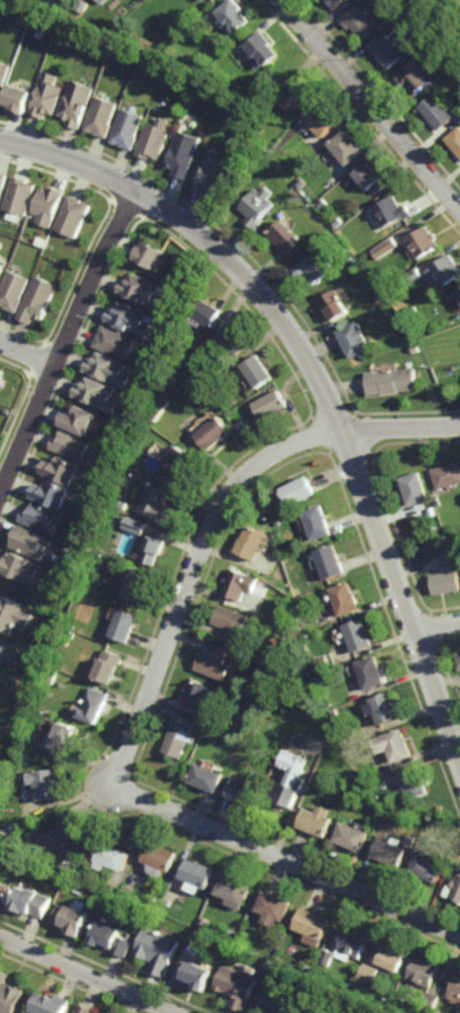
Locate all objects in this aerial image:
building: (103, 1)
building: (336, 2)
building: (233, 14)
building: (360, 21)
building: (261, 47)
building: (389, 49)
building: (232, 55)
building: (4, 74)
building: (416, 76)
building: (295, 94)
building: (48, 95)
building: (18, 97)
building: (77, 103)
road: (371, 104)
building: (437, 112)
building: (102, 116)
building: (321, 119)
building: (128, 129)
building: (264, 131)
building: (153, 139)
building: (455, 140)
building: (348, 147)
building: (182, 154)
building: (209, 173)
building: (372, 176)
building: (301, 182)
building: (3, 184)
building: (19, 198)
building: (322, 204)
building: (257, 206)
building: (48, 207)
building: (392, 212)
building: (74, 216)
building: (374, 218)
building: (338, 223)
building: (324, 228)
building: (284, 237)
building: (424, 242)
building: (386, 248)
building: (0, 255)
building: (147, 255)
building: (314, 267)
building: (2, 269)
building: (445, 273)
building: (414, 276)
building: (459, 290)
building: (13, 292)
building: (140, 292)
building: (39, 300)
building: (378, 301)
building: (335, 306)
building: (414, 310)
building: (207, 314)
building: (128, 320)
building: (233, 339)
road: (65, 340)
building: (355, 341)
building: (115, 343)
road: (27, 353)
building: (108, 370)
building: (257, 373)
road: (320, 376)
building: (1, 377)
building: (393, 382)
building: (174, 390)
building: (186, 393)
building: (97, 395)
building: (271, 407)
building: (160, 410)
building: (78, 421)
building: (241, 426)
building: (213, 435)
building: (70, 446)
building: (183, 465)
building: (60, 472)
building: (448, 478)
building: (415, 490)
building: (300, 494)
building: (50, 495)
building: (126, 504)
building: (157, 508)
building: (39, 520)
building: (318, 525)
building: (138, 529)
building: (30, 544)
building: (254, 547)
building: (152, 552)
building: (450, 561)
building: (331, 565)
building: (100, 568)
building: (20, 571)
building: (447, 585)
building: (140, 586)
building: (240, 587)
building: (346, 602)
building: (12, 615)
building: (128, 622)
building: (233, 623)
road: (438, 625)
building: (359, 635)
building: (70, 637)
building: (7, 652)
building: (459, 655)
building: (221, 661)
building: (112, 663)
building: (373, 671)
road: (151, 692)
building: (203, 692)
building: (97, 703)
building: (386, 707)
building: (71, 735)
building: (184, 735)
building: (399, 744)
building: (210, 776)
building: (290, 778)
building: (50, 782)
building: (416, 782)
building: (244, 791)
building: (317, 820)
building: (75, 834)
building: (352, 836)
building: (410, 841)
building: (391, 851)
building: (116, 855)
building: (163, 858)
building: (455, 862)
building: (426, 867)
building: (201, 875)
building: (88, 876)
building: (5, 890)
building: (234, 890)
building: (453, 890)
building: (33, 901)
building: (93, 907)
building: (273, 908)
building: (74, 919)
building: (208, 922)
building: (312, 926)
building: (116, 939)
building: (353, 944)
building: (161, 950)
building: (329, 957)
building: (281, 959)
building: (392, 960)
building: (274, 969)
building: (278, 972)
building: (424, 972)
building: (370, 974)
road: (87, 975)
building: (200, 975)
building: (238, 986)
building: (454, 988)
building: (10, 995)
building: (308, 1001)
building: (428, 1003)
building: (52, 1004)
building: (277, 1005)
building: (333, 1008)
building: (87, 1009)
building: (306, 1011)
building: (386, 1012)

